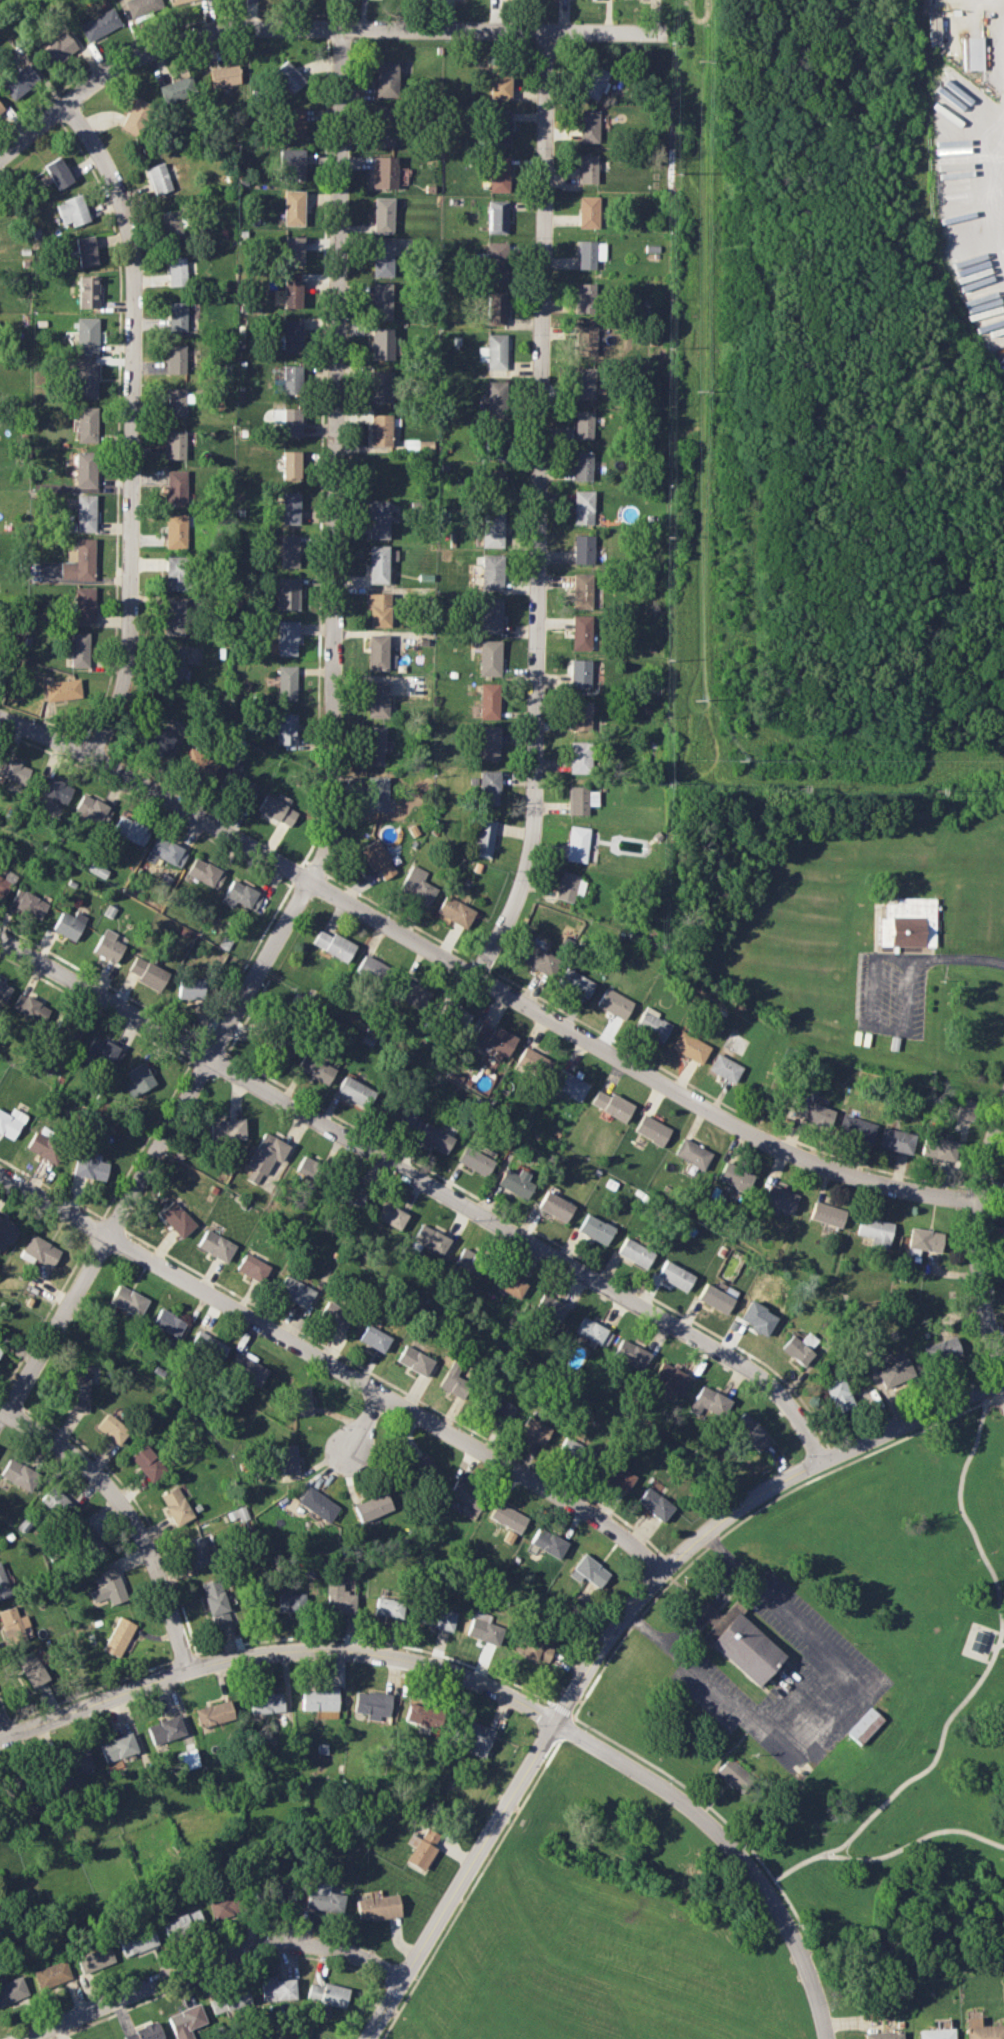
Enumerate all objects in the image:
building: (177, 1)
building: (140, 7)
building: (99, 25)
road: (315, 28)
building: (59, 49)
building: (970, 53)
power tower: (700, 60)
building: (224, 76)
building: (288, 76)
building: (386, 79)
building: (18, 81)
building: (594, 82)
building: (497, 84)
building: (177, 89)
building: (0, 109)
building: (134, 116)
building: (294, 122)
building: (383, 126)
building: (587, 126)
building: (497, 128)
building: (291, 164)
building: (586, 169)
building: (383, 172)
building: (57, 173)
building: (497, 174)
building: (158, 178)
building: (292, 208)
building: (71, 211)
building: (586, 212)
building: (382, 215)
building: (496, 217)
building: (172, 224)
building: (85, 251)
building: (293, 251)
building: (588, 254)
building: (383, 259)
building: (176, 271)
building: (87, 292)
building: (292, 294)
building: (582, 297)
building: (382, 301)
building: (495, 309)
building: (176, 316)
building: (86, 334)
building: (290, 337)
building: (585, 341)
building: (381, 343)
building: (493, 352)
building: (175, 359)
building: (86, 380)
building: (288, 381)
building: (584, 383)
building: (381, 386)
power tower: (697, 388)
building: (495, 398)
building: (177, 401)
building: (287, 420)
building: (85, 424)
building: (583, 424)
road: (133, 427)
building: (380, 430)
building: (175, 445)
building: (410, 445)
building: (493, 449)
building: (290, 465)
building: (582, 466)
building: (84, 469)
building: (493, 480)
building: (175, 487)
building: (583, 507)
building: (289, 508)
road: (538, 510)
building: (85, 513)
building: (378, 519)
building: (491, 530)
building: (175, 531)
building: (583, 549)
building: (289, 551)
building: (80, 561)
building: (378, 564)
building: (490, 572)
building: (174, 573)
building: (582, 591)
building: (287, 593)
building: (84, 605)
building: (378, 610)
building: (490, 615)
building: (175, 618)
building: (581, 633)
building: (285, 638)
building: (78, 650)
building: (379, 653)
building: (489, 658)
building: (174, 665)
building: (580, 674)
building: (286, 683)
building: (61, 690)
building: (377, 700)
power tower: (697, 700)
building: (489, 701)
building: (580, 715)
building: (286, 729)
building: (156, 739)
building: (488, 743)
building: (374, 746)
power tower: (735, 756)
building: (579, 757)
building: (199, 762)
road: (332, 762)
building: (13, 771)
building: (237, 786)
building: (488, 787)
building: (56, 790)
building: (375, 794)
building: (580, 799)
building: (92, 810)
building: (276, 811)
building: (131, 830)
building: (484, 838)
building: (576, 844)
building: (166, 853)
building: (377, 859)
building: (205, 873)
building: (3, 886)
building: (416, 886)
building: (569, 887)
building: (241, 896)
building: (28, 903)
building: (455, 912)
building: (909, 923)
building: (68, 924)
building: (333, 945)
building: (107, 946)
road: (959, 955)
building: (539, 960)
building: (369, 968)
building: (147, 973)
road: (481, 979)
building: (575, 982)
building: (190, 988)
building: (4, 990)
building: (409, 993)
building: (613, 1003)
building: (29, 1008)
road: (874, 1022)
building: (652, 1024)
building: (68, 1032)
building: (494, 1040)
building: (689, 1047)
building: (103, 1051)
building: (532, 1063)
building: (724, 1068)
building: (315, 1069)
building: (138, 1079)
building: (569, 1085)
building: (354, 1092)
building: (610, 1105)
building: (813, 1112)
building: (399, 1117)
building: (10, 1122)
building: (855, 1128)
building: (226, 1129)
building: (651, 1130)
building: (435, 1138)
building: (895, 1140)
building: (939, 1146)
building: (44, 1147)
building: (691, 1154)
building: (264, 1157)
building: (474, 1161)
building: (305, 1166)
building: (89, 1168)
building: (734, 1177)
road: (428, 1182)
building: (515, 1183)
building: (352, 1193)
building: (779, 1198)
building: (554, 1207)
building: (826, 1214)
building: (391, 1216)
building: (175, 1219)
building: (595, 1229)
building: (7, 1231)
building: (874, 1232)
building: (428, 1241)
building: (922, 1241)
road: (976, 1241)
building: (215, 1246)
building: (39, 1251)
building: (634, 1252)
building: (469, 1260)
building: (253, 1268)
building: (674, 1276)
building: (513, 1285)
building: (295, 1292)
building: (716, 1298)
building: (127, 1300)
building: (551, 1307)
building: (334, 1315)
building: (756, 1318)
building: (167, 1322)
building: (593, 1332)
building: (374, 1338)
building: (207, 1346)
building: (0, 1347)
building: (942, 1350)
building: (797, 1351)
building: (631, 1355)
building: (414, 1360)
road: (337, 1363)
building: (246, 1367)
building: (895, 1374)
building: (670, 1378)
building: (454, 1380)
building: (78, 1388)
building: (837, 1394)
building: (300, 1401)
building: (708, 1402)
building: (496, 1407)
building: (111, 1428)
building: (533, 1430)
road: (366, 1431)
building: (750, 1432)
building: (288, 1459)
building: (146, 1463)
building: (421, 1465)
building: (18, 1474)
building: (615, 1477)
building: (465, 1495)
building: (58, 1504)
building: (317, 1504)
building: (653, 1504)
road: (744, 1504)
building: (175, 1505)
building: (372, 1507)
road: (135, 1509)
building: (506, 1518)
building: (89, 1542)
building: (547, 1543)
building: (197, 1552)
building: (589, 1571)
building: (3, 1586)
building: (107, 1587)
road: (724, 1587)
building: (338, 1600)
building: (215, 1601)
building: (291, 1603)
building: (388, 1608)
road: (704, 1611)
building: (437, 1618)
building: (12, 1625)
road: (634, 1625)
building: (483, 1629)
road: (682, 1632)
building: (118, 1637)
building: (739, 1642)
building: (532, 1646)
road: (277, 1650)
park: (883, 1668)
building: (31, 1669)
road: (794, 1689)
building: (320, 1701)
building: (265, 1703)
building: (372, 1704)
road: (960, 1706)
building: (213, 1713)
road: (828, 1717)
road: (5, 1724)
building: (863, 1726)
building: (164, 1729)
building: (473, 1738)
building: (117, 1747)
building: (185, 1759)
building: (78, 1761)
building: (732, 1773)
building: (421, 1848)
road: (728, 1849)
road: (821, 1854)
road: (462, 1878)
road: (766, 1884)
building: (279, 1897)
building: (324, 1899)
building: (220, 1906)
building: (378, 1907)
building: (181, 1923)
building: (136, 1941)
building: (94, 1959)
road: (214, 1966)
building: (52, 1974)
building: (277, 1989)
building: (12, 1990)
building: (327, 1994)
building: (229, 2000)
building: (185, 2021)
building: (982, 2029)
building: (144, 2032)
building: (882, 2035)

